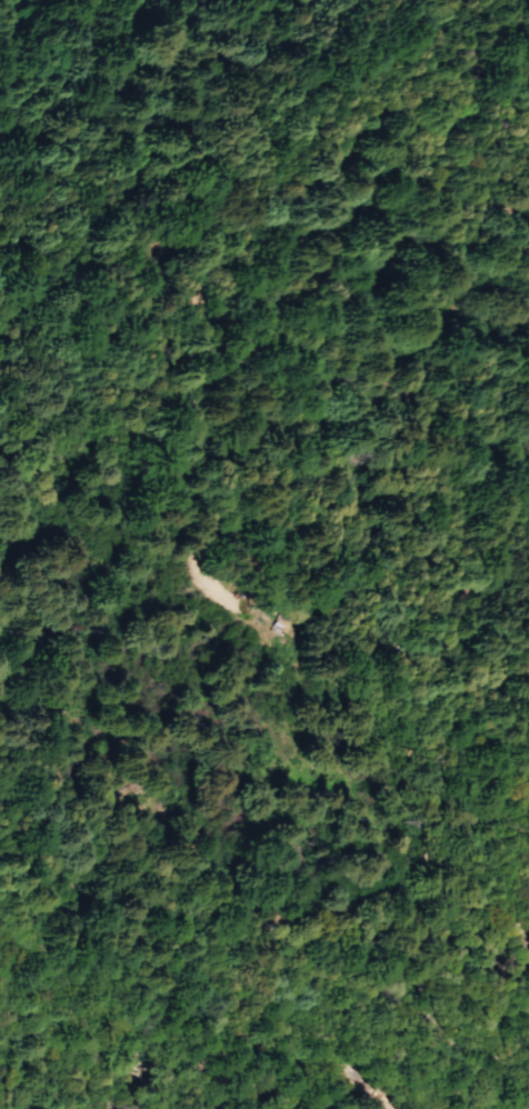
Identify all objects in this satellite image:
road: (450, 649)
road: (399, 807)
road: (338, 1068)
road: (2, 1108)

